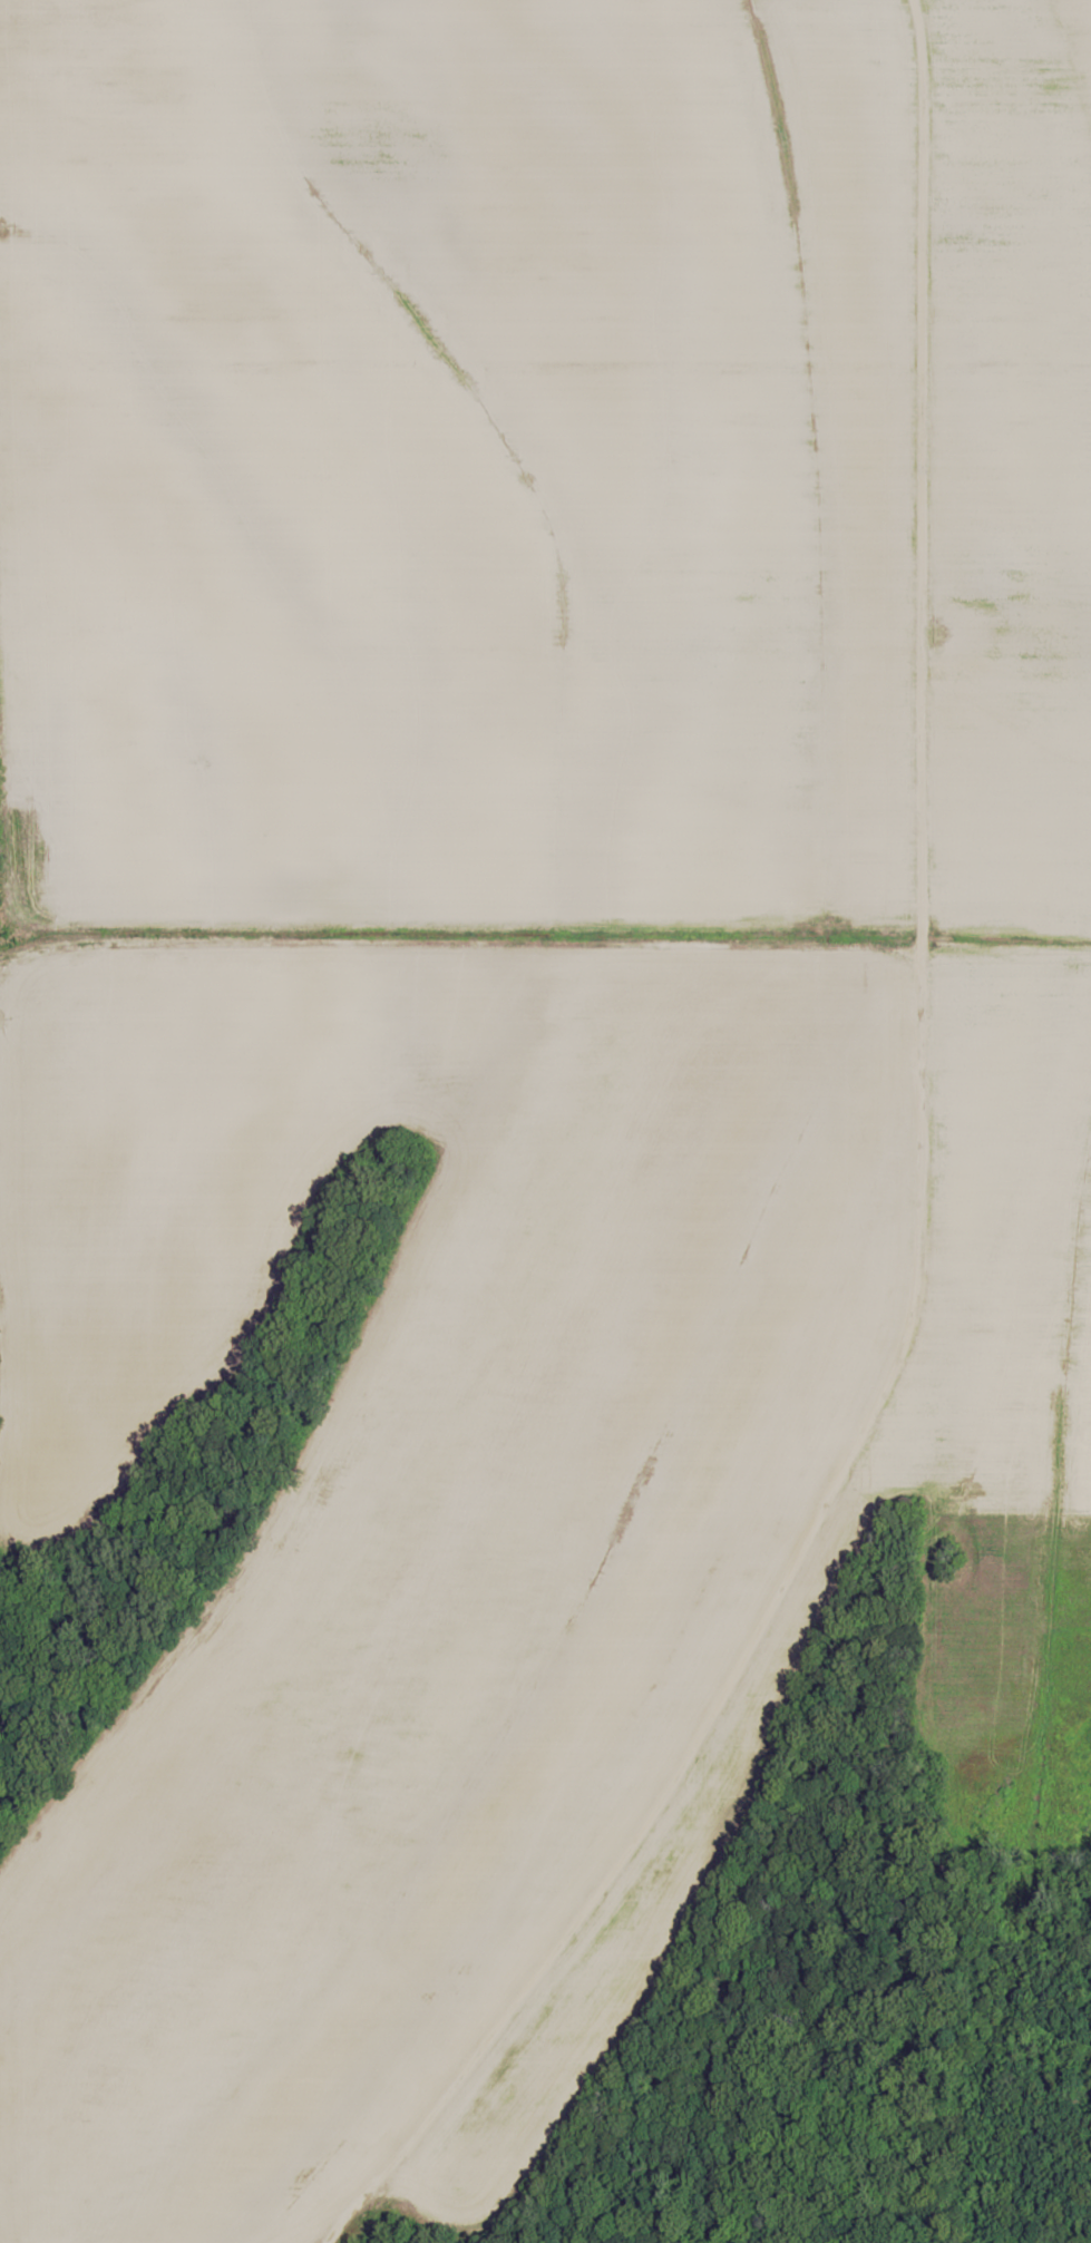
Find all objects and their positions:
road: (459, 947)
road: (917, 1206)

